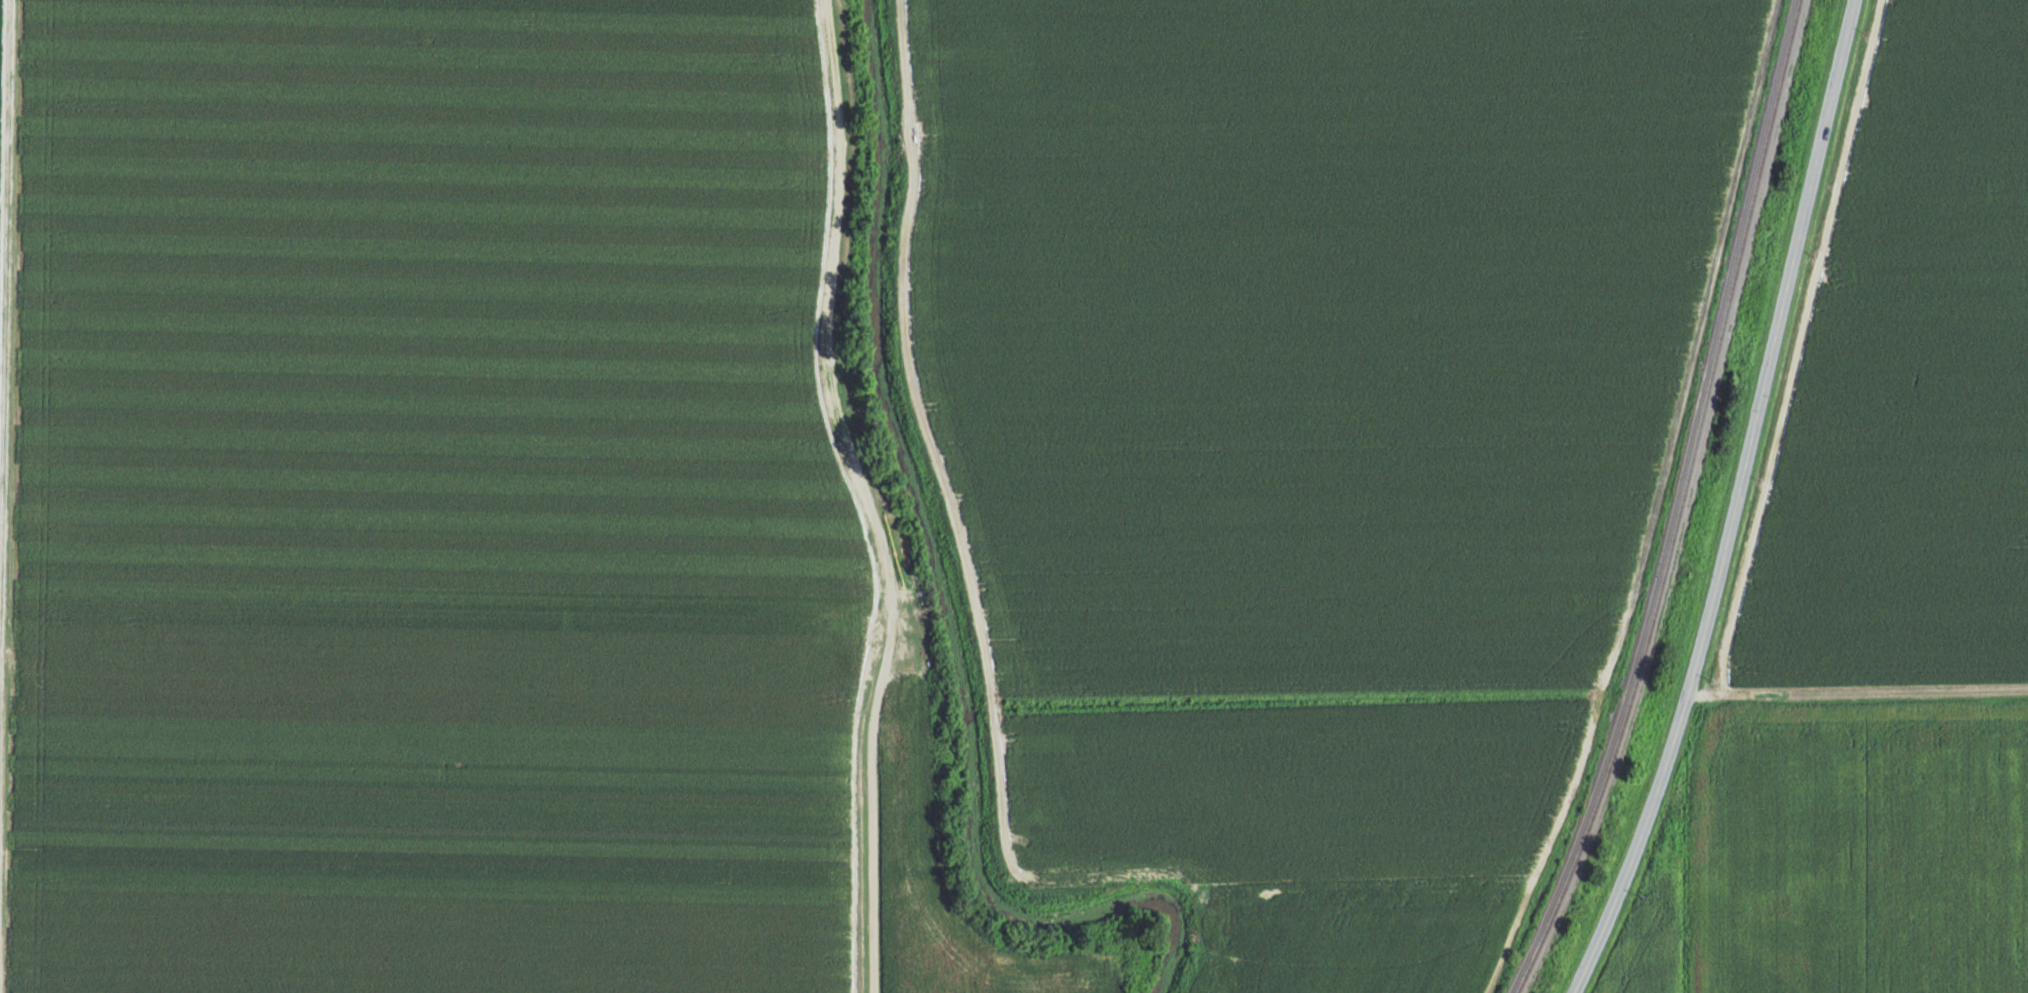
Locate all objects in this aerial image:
road: (875, 495)
railway: (1679, 503)
road: (1734, 503)

